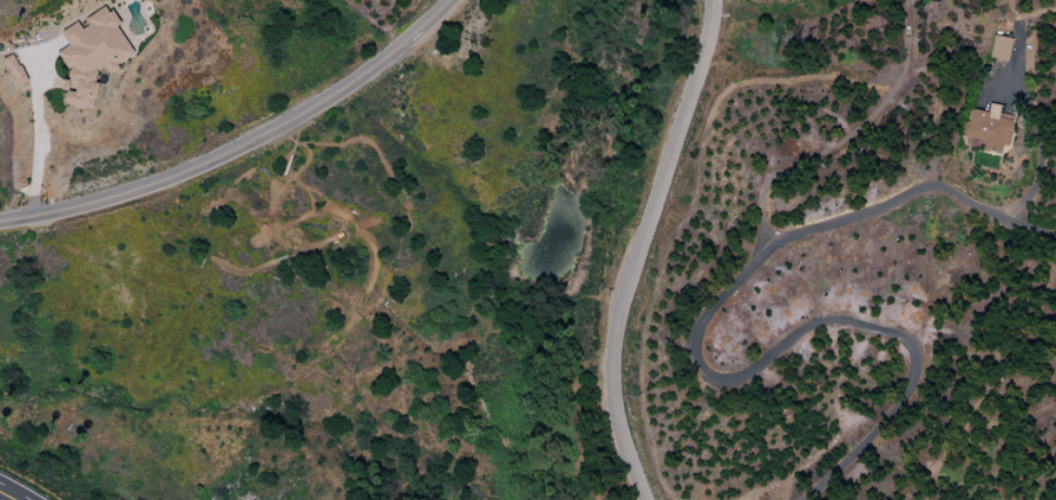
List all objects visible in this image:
building: (998, 48)
building: (90, 56)
building: (14, 69)
building: (988, 128)
road: (38, 137)
road: (250, 148)
road: (1040, 155)
road: (637, 248)
road: (696, 362)
road: (15, 490)

